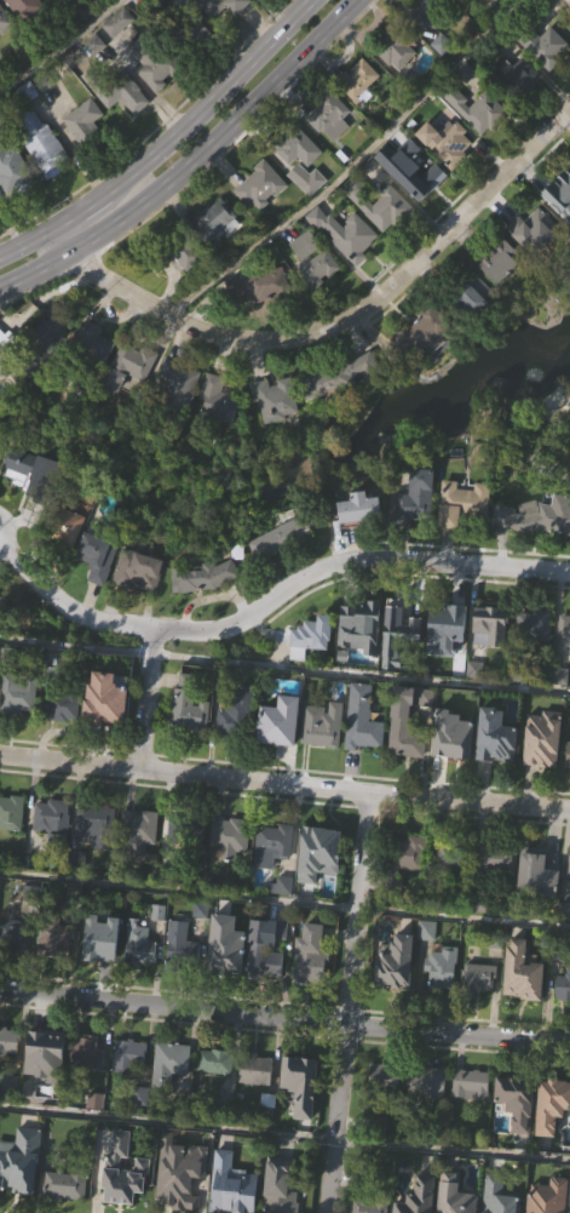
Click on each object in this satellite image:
building: (462, 0)
building: (93, 1)
building: (493, 1)
building: (19, 5)
building: (288, 5)
building: (219, 6)
building: (426, 11)
building: (79, 13)
road: (275, 16)
building: (4, 21)
building: (116, 22)
building: (161, 25)
building: (215, 28)
building: (188, 36)
building: (540, 41)
building: (396, 45)
road: (61, 46)
building: (428, 46)
building: (5, 57)
building: (121, 59)
building: (152, 62)
building: (513, 76)
building: (356, 80)
building: (547, 84)
building: (397, 86)
building: (116, 91)
road: (229, 93)
building: (155, 101)
building: (471, 105)
building: (518, 113)
building: (328, 115)
building: (82, 122)
building: (127, 132)
road: (224, 135)
building: (444, 142)
building: (41, 144)
building: (290, 144)
building: (478, 147)
building: (333, 153)
building: (86, 158)
building: (10, 166)
road: (346, 168)
building: (305, 179)
building: (449, 179)
building: (46, 182)
building: (259, 185)
building: (559, 195)
road: (93, 205)
building: (379, 205)
building: (15, 206)
building: (413, 206)
building: (310, 216)
building: (213, 221)
building: (263, 223)
building: (534, 231)
building: (560, 231)
building: (344, 234)
road: (28, 240)
building: (387, 245)
building: (303, 246)
building: (175, 252)
building: (218, 254)
building: (497, 261)
building: (536, 267)
road: (38, 268)
building: (317, 269)
building: (347, 270)
building: (258, 286)
building: (186, 293)
building: (502, 297)
building: (319, 308)
building: (261, 324)
road: (340, 327)
building: (48, 331)
building: (478, 331)
building: (421, 332)
building: (92, 343)
building: (127, 364)
building: (50, 370)
building: (424, 371)
building: (97, 379)
building: (329, 379)
building: (175, 387)
building: (2, 394)
building: (274, 397)
building: (214, 401)
building: (131, 404)
building: (180, 420)
building: (220, 434)
building: (277, 436)
building: (414, 497)
building: (460, 500)
building: (33, 507)
building: (356, 507)
building: (536, 515)
building: (62, 527)
building: (419, 534)
building: (277, 538)
building: (465, 539)
building: (362, 545)
building: (537, 553)
building: (94, 555)
building: (69, 561)
building: (136, 570)
building: (282, 574)
building: (200, 576)
building: (99, 594)
road: (271, 601)
building: (1, 603)
building: (140, 607)
building: (207, 612)
building: (404, 618)
building: (451, 618)
building: (490, 619)
building: (534, 625)
building: (564, 629)
building: (309, 636)
building: (4, 640)
building: (363, 663)
building: (449, 663)
building: (494, 663)
building: (536, 663)
building: (401, 668)
building: (565, 668)
building: (313, 674)
building: (16, 692)
road: (144, 699)
building: (59, 704)
building: (102, 706)
building: (186, 706)
building: (228, 720)
building: (271, 722)
building: (319, 723)
building: (363, 726)
building: (21, 729)
building: (427, 733)
building: (108, 737)
building: (404, 738)
building: (541, 738)
building: (63, 742)
building: (494, 742)
building: (450, 743)
building: (191, 746)
building: (237, 753)
building: (364, 755)
building: (566, 755)
building: (282, 759)
building: (324, 761)
building: (454, 772)
building: (497, 773)
building: (545, 776)
road: (284, 783)
building: (569, 791)
building: (10, 811)
building: (93, 818)
building: (51, 822)
building: (134, 830)
building: (185, 831)
building: (228, 832)
building: (270, 845)
building: (322, 847)
building: (12, 849)
building: (54, 856)
building: (453, 858)
building: (495, 858)
building: (402, 859)
building: (98, 862)
building: (189, 865)
building: (568, 866)
building: (140, 868)
building: (230, 874)
building: (536, 874)
building: (275, 881)
building: (321, 889)
building: (408, 892)
building: (451, 894)
building: (499, 897)
road: (284, 902)
building: (540, 909)
building: (569, 912)
building: (286, 921)
building: (13, 934)
building: (52, 936)
building: (179, 944)
building: (137, 945)
building: (93, 946)
building: (220, 948)
building: (260, 951)
building: (309, 956)
building: (395, 961)
building: (439, 968)
building: (17, 969)
building: (522, 972)
building: (57, 973)
building: (103, 974)
building: (477, 977)
building: (184, 979)
building: (142, 980)
building: (228, 982)
building: (267, 984)
building: (563, 985)
building: (313, 990)
building: (398, 999)
road: (345, 1001)
building: (444, 1005)
building: (525, 1007)
building: (483, 1013)
road: (284, 1020)
building: (564, 1023)
building: (7, 1041)
building: (46, 1046)
building: (86, 1053)
building: (126, 1054)
building: (214, 1062)
building: (166, 1065)
building: (255, 1070)
building: (300, 1070)
building: (10, 1077)
building: (426, 1082)
building: (468, 1083)
building: (88, 1088)
building: (47, 1089)
building: (132, 1089)
building: (378, 1094)
building: (174, 1095)
building: (218, 1097)
building: (516, 1099)
building: (258, 1104)
building: (551, 1104)
building: (387, 1112)
building: (428, 1118)
building: (303, 1120)
building: (473, 1120)
road: (166, 1121)
building: (98, 1137)
building: (519, 1137)
building: (553, 1142)
road: (450, 1149)
building: (18, 1161)
building: (121, 1172)
building: (179, 1172)
building: (64, 1183)
building: (278, 1185)
building: (230, 1186)
building: (22, 1190)
building: (453, 1195)
building: (379, 1196)
building: (546, 1196)
building: (416, 1197)
building: (502, 1207)
building: (68, 1211)

